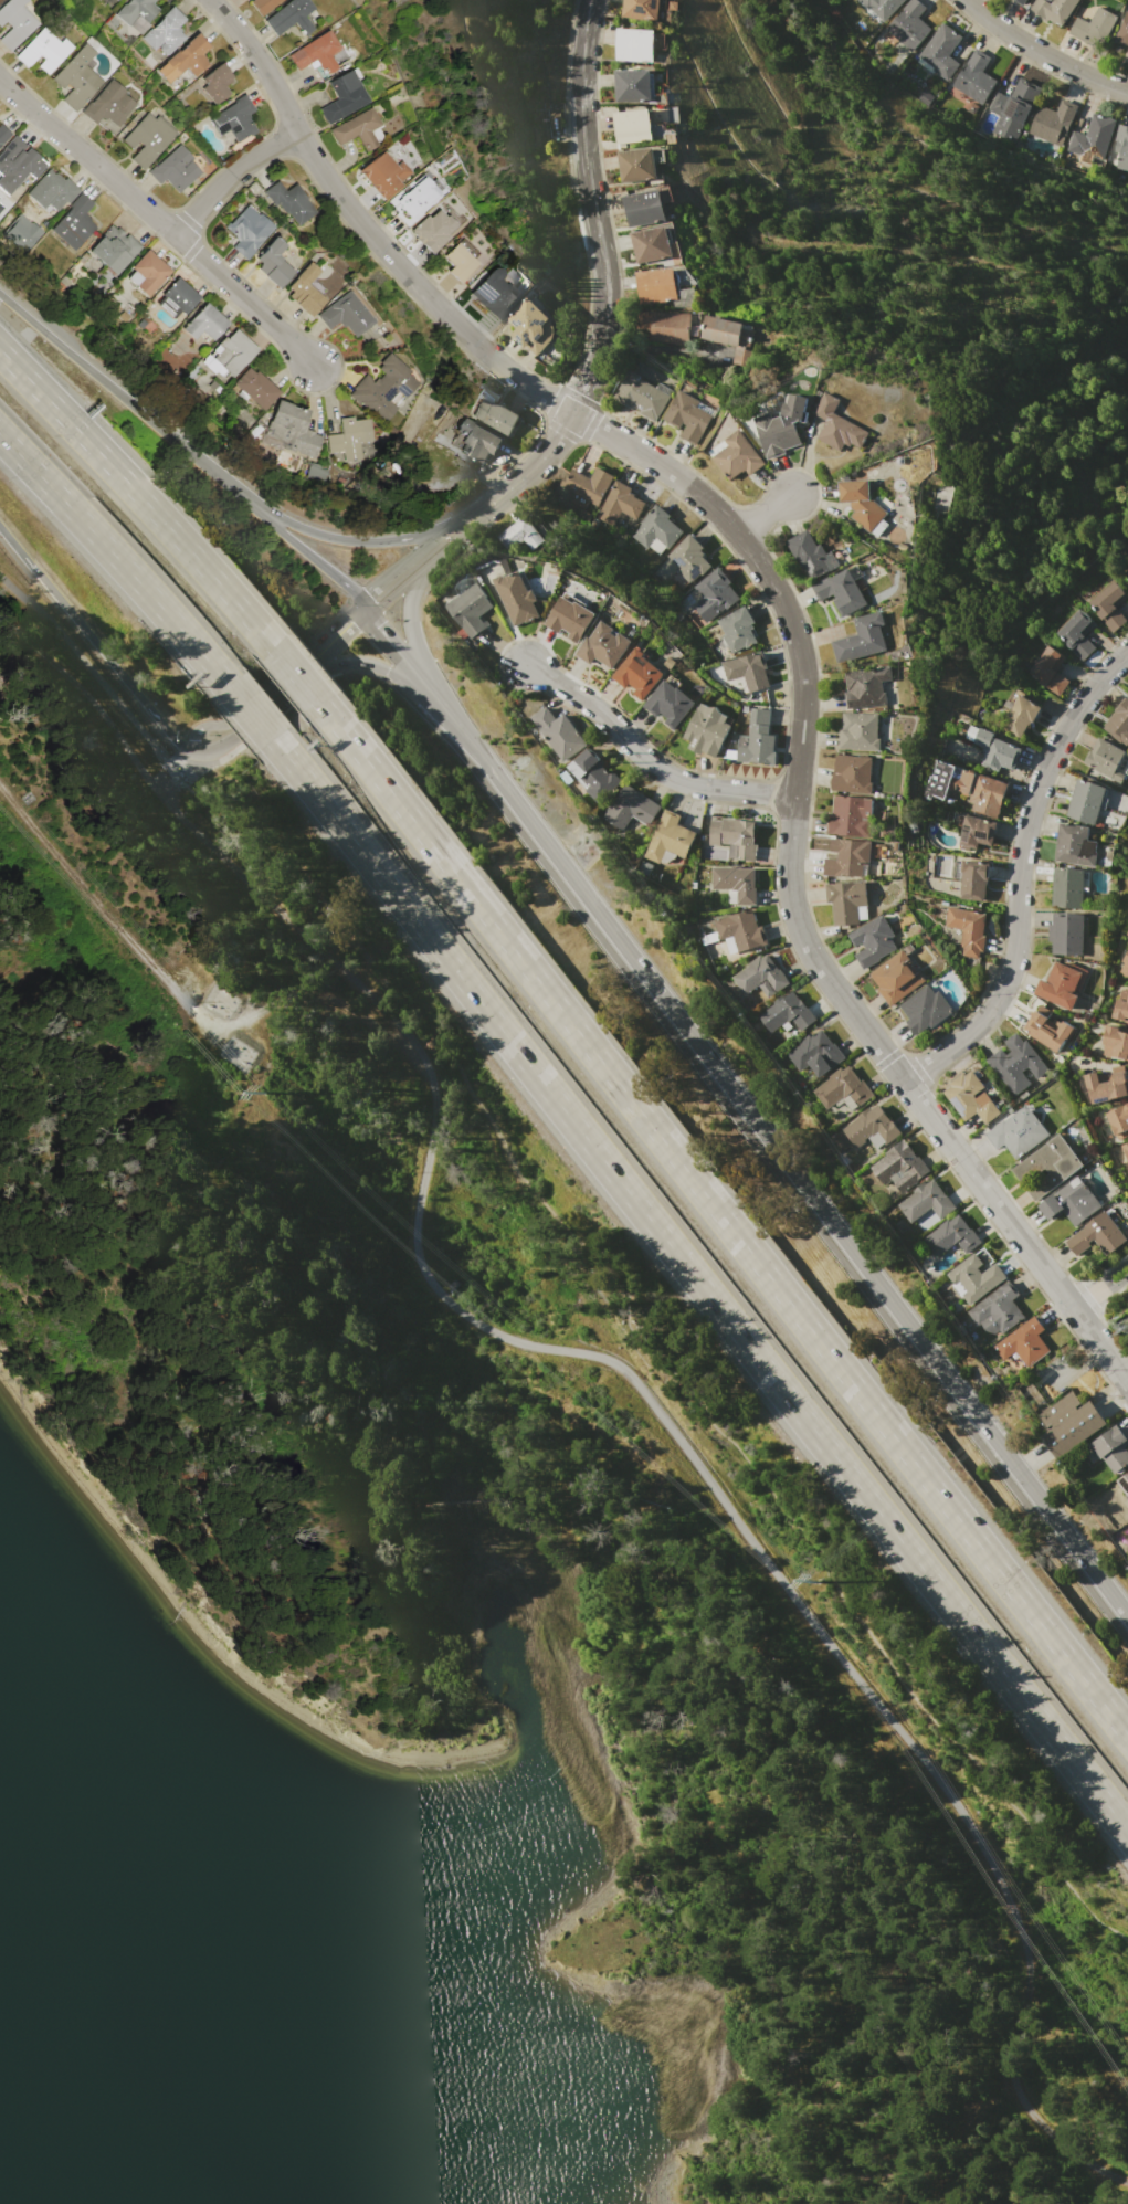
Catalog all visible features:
building: (0, 0)
building: (104, 1)
building: (1021, 2)
building: (263, 4)
building: (881, 9)
building: (644, 10)
building: (1053, 10)
building: (137, 13)
building: (289, 17)
building: (15, 23)
building: (908, 24)
building: (1094, 27)
building: (1124, 29)
building: (166, 32)
building: (639, 43)
building: (42, 52)
building: (940, 52)
road: (1043, 52)
building: (319, 55)
building: (189, 56)
building: (1127, 59)
building: (77, 75)
building: (974, 77)
building: (215, 83)
building: (635, 85)
building: (344, 96)
building: (108, 104)
building: (1013, 108)
building: (234, 119)
building: (1052, 120)
building: (633, 126)
building: (359, 129)
building: (3, 135)
building: (147, 138)
building: (1093, 139)
building: (1122, 146)
building: (18, 164)
building: (641, 164)
building: (175, 169)
building: (382, 175)
road: (236, 179)
building: (52, 192)
building: (289, 199)
building: (409, 205)
building: (645, 208)
road: (164, 215)
building: (75, 223)
building: (247, 231)
building: (432, 231)
building: (20, 233)
building: (652, 244)
building: (115, 250)
building: (273, 262)
building: (458, 264)
building: (147, 273)
road: (603, 274)
building: (656, 285)
building: (305, 291)
building: (493, 295)
building: (177, 298)
building: (346, 314)
building: (204, 324)
building: (531, 326)
building: (665, 327)
building: (729, 336)
road: (653, 348)
building: (232, 354)
building: (256, 388)
building: (382, 388)
building: (643, 396)
building: (688, 415)
building: (495, 416)
building: (783, 425)
building: (840, 425)
building: (295, 429)
building: (349, 437)
building: (475, 440)
road: (183, 447)
building: (737, 455)
building: (588, 483)
road: (138, 495)
building: (622, 502)
building: (863, 506)
road: (763, 513)
road: (460, 524)
building: (656, 531)
building: (523, 532)
road: (352, 539)
building: (810, 555)
road: (115, 558)
building: (689, 559)
road: (401, 574)
building: (1126, 574)
building: (841, 591)
building: (714, 594)
building: (516, 598)
building: (1109, 604)
building: (472, 609)
building: (570, 619)
road: (792, 628)
building: (737, 629)
building: (1077, 634)
road: (333, 637)
building: (862, 639)
road: (93, 641)
building: (603, 646)
road: (420, 648)
building: (1050, 671)
building: (747, 672)
road: (295, 673)
building: (637, 673)
road: (86, 674)
road: (401, 678)
road: (419, 678)
building: (866, 686)
road: (274, 694)
building: (670, 704)
road: (249, 711)
building: (1019, 716)
building: (1119, 723)
road: (213, 724)
building: (707, 730)
building: (858, 731)
building: (561, 732)
building: (758, 739)
road: (220, 741)
road: (191, 746)
building: (997, 750)
building: (1104, 757)
road: (646, 760)
road: (182, 762)
building: (595, 774)
building: (852, 774)
road: (162, 782)
building: (964, 788)
building: (1086, 802)
building: (632, 808)
building: (851, 815)
building: (977, 832)
building: (736, 836)
building: (670, 837)
building: (1075, 845)
building: (848, 857)
road: (1020, 875)
building: (973, 880)
building: (736, 883)
building: (1067, 887)
building: (846, 900)
building: (741, 929)
building: (968, 929)
building: (1066, 934)
building: (873, 941)
building: (1125, 966)
building: (761, 977)
building: (898, 977)
building: (1062, 984)
road: (178, 994)
building: (1121, 1005)
building: (925, 1009)
building: (788, 1012)
building: (1048, 1029)
building: (1116, 1042)
building: (816, 1053)
building: (1016, 1063)
building: (1107, 1085)
building: (843, 1088)
power tower: (264, 1093)
building: (971, 1097)
building: (1119, 1121)
building: (871, 1126)
building: (1018, 1132)
building: (841, 1141)
building: (1126, 1149)
building: (899, 1167)
building: (1046, 1167)
road: (801, 1183)
building: (927, 1201)
building: (1072, 1201)
road: (723, 1219)
building: (1098, 1235)
building: (952, 1236)
road: (1109, 1275)
building: (976, 1277)
road: (700, 1285)
road: (1113, 1287)
road: (1084, 1303)
building: (998, 1310)
power tower: (1125, 1321)
building: (1022, 1346)
road: (662, 1354)
road: (597, 1356)
road: (1077, 1368)
building: (1069, 1423)
building: (1113, 1447)
building: (1124, 1481)
building: (1127, 1497)
power tower: (816, 1581)
road: (1103, 2190)

